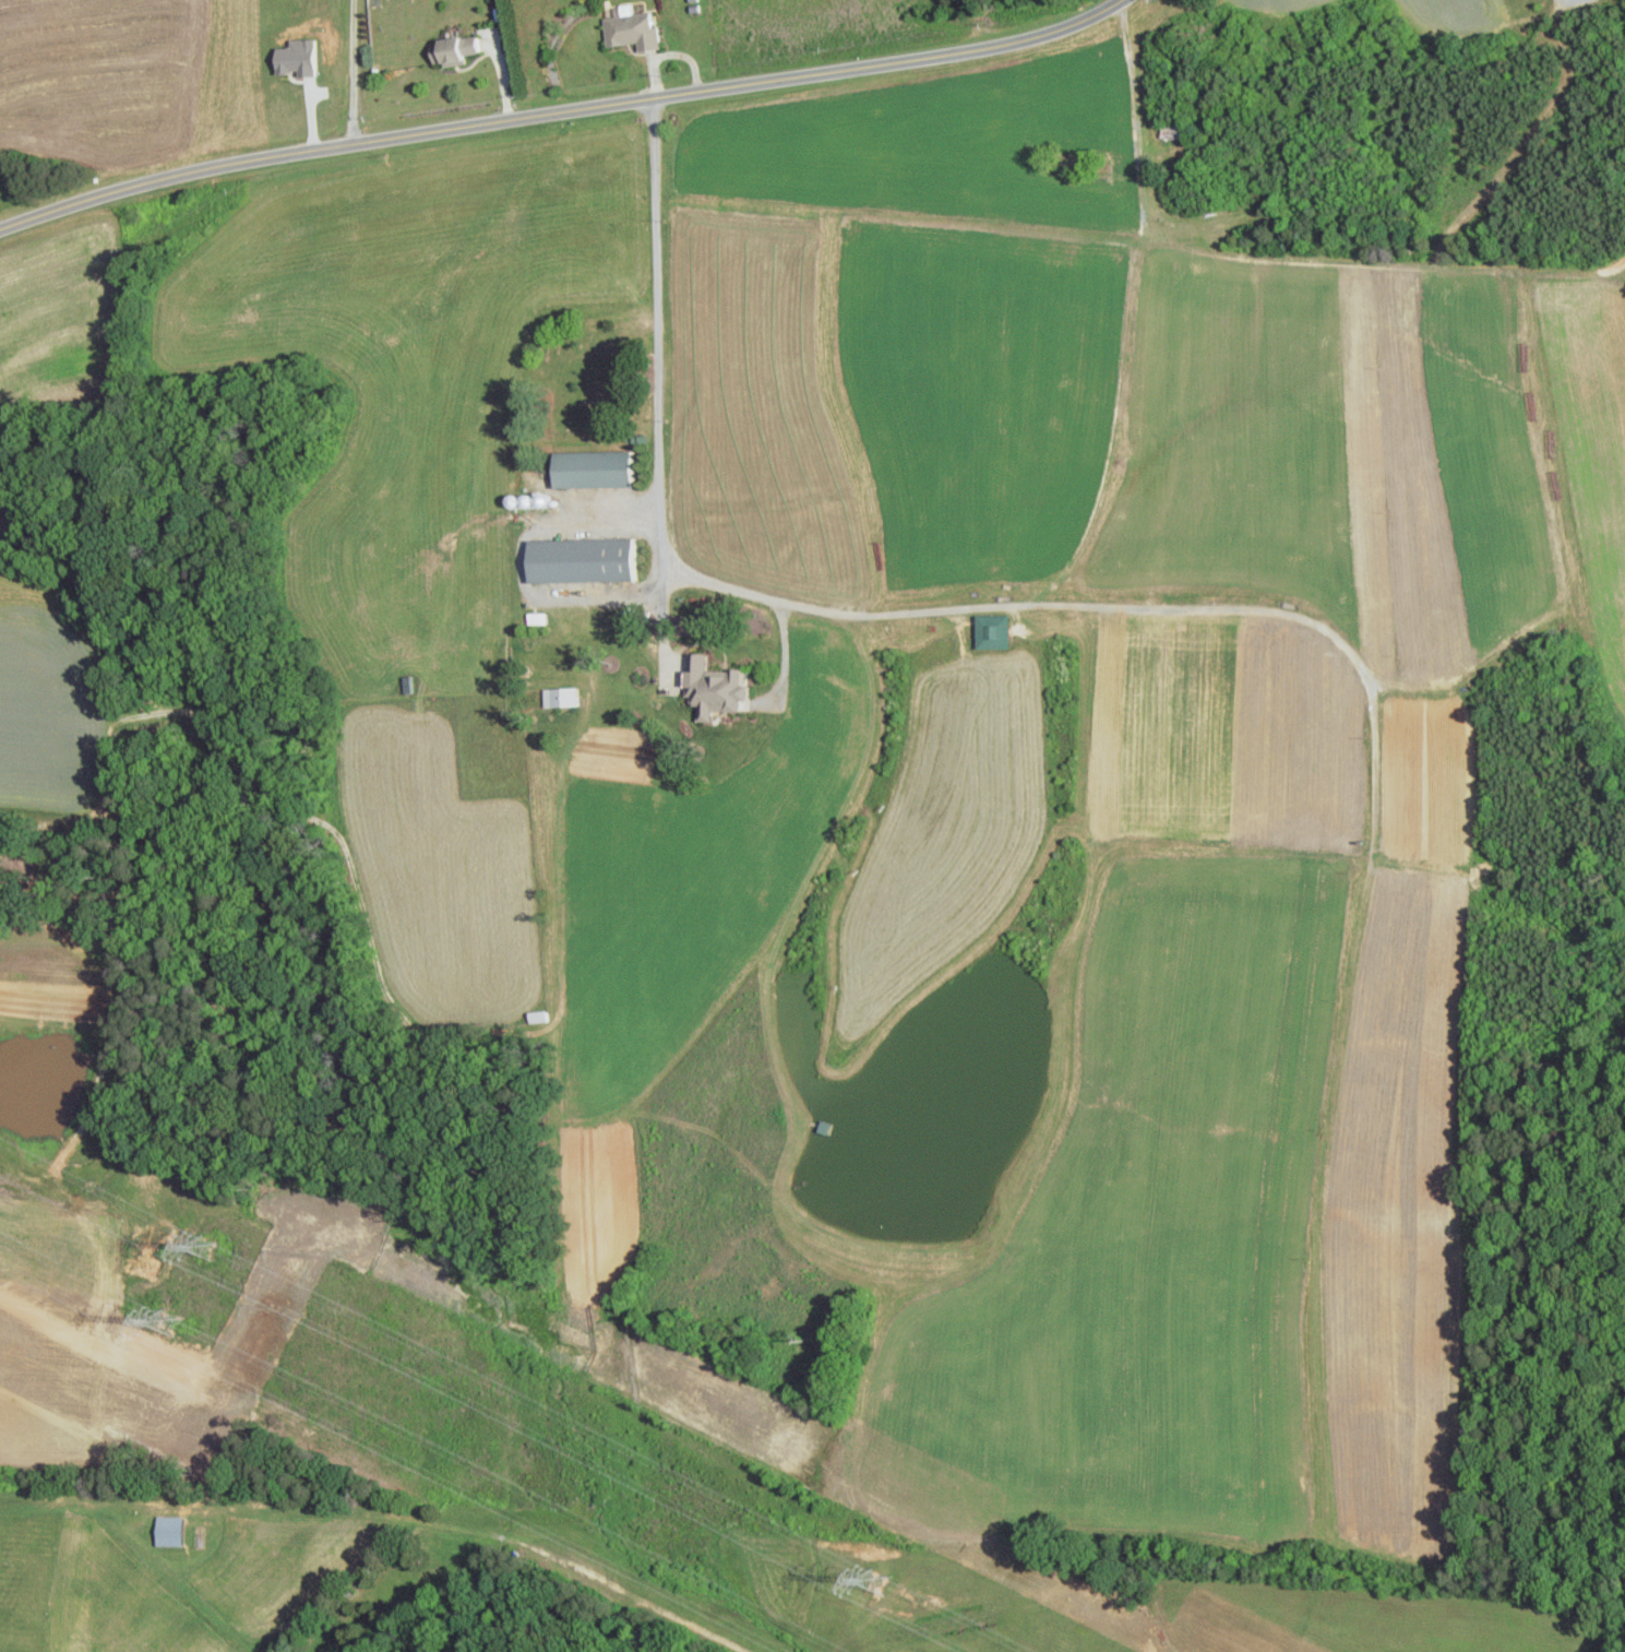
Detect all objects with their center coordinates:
building: (635, 28)
building: (459, 50)
building: (303, 58)
road: (354, 71)
road: (559, 111)
building: (589, 467)
building: (577, 559)
road: (528, 582)
road: (794, 604)
building: (988, 630)
building: (557, 696)
power tower: (206, 1249)
power tower: (171, 1321)
building: (175, 1531)
power tower: (879, 1579)

